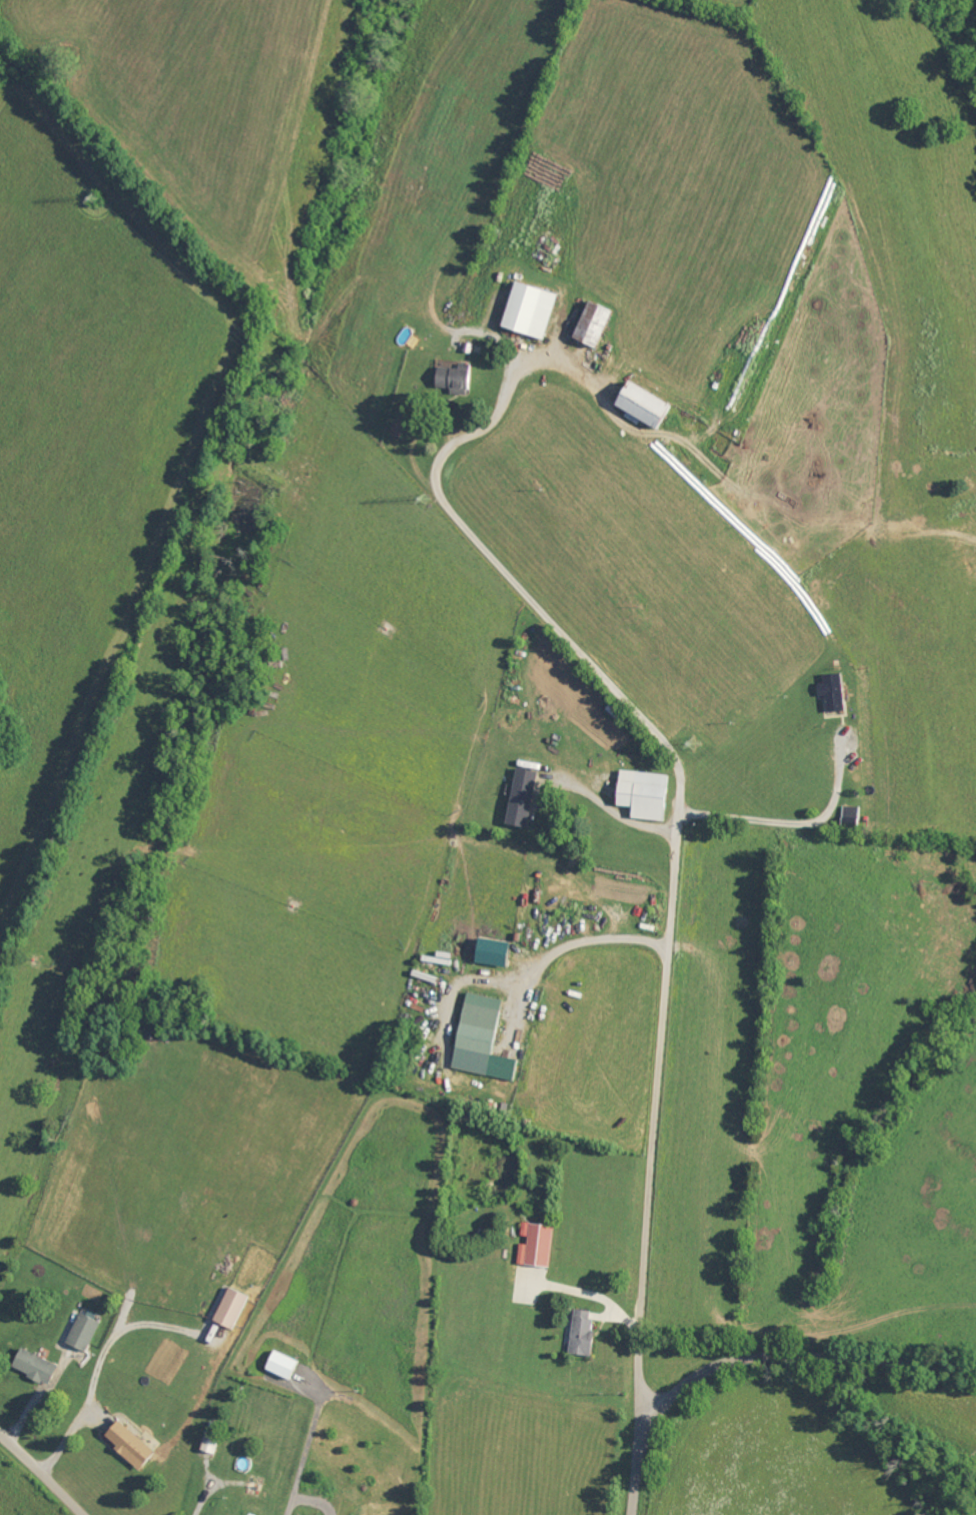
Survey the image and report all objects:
building: (527, 311)
building: (590, 325)
building: (452, 379)
building: (640, 406)
building: (832, 692)
power tower: (695, 744)
building: (642, 794)
building: (520, 797)
road: (675, 871)
road: (575, 942)
building: (490, 952)
building: (480, 1039)
building: (535, 1245)
building: (230, 1309)
building: (81, 1333)
building: (581, 1333)
road: (755, 1355)
building: (281, 1365)
building: (32, 1366)
building: (127, 1444)
road: (304, 1454)
road: (45, 1471)

